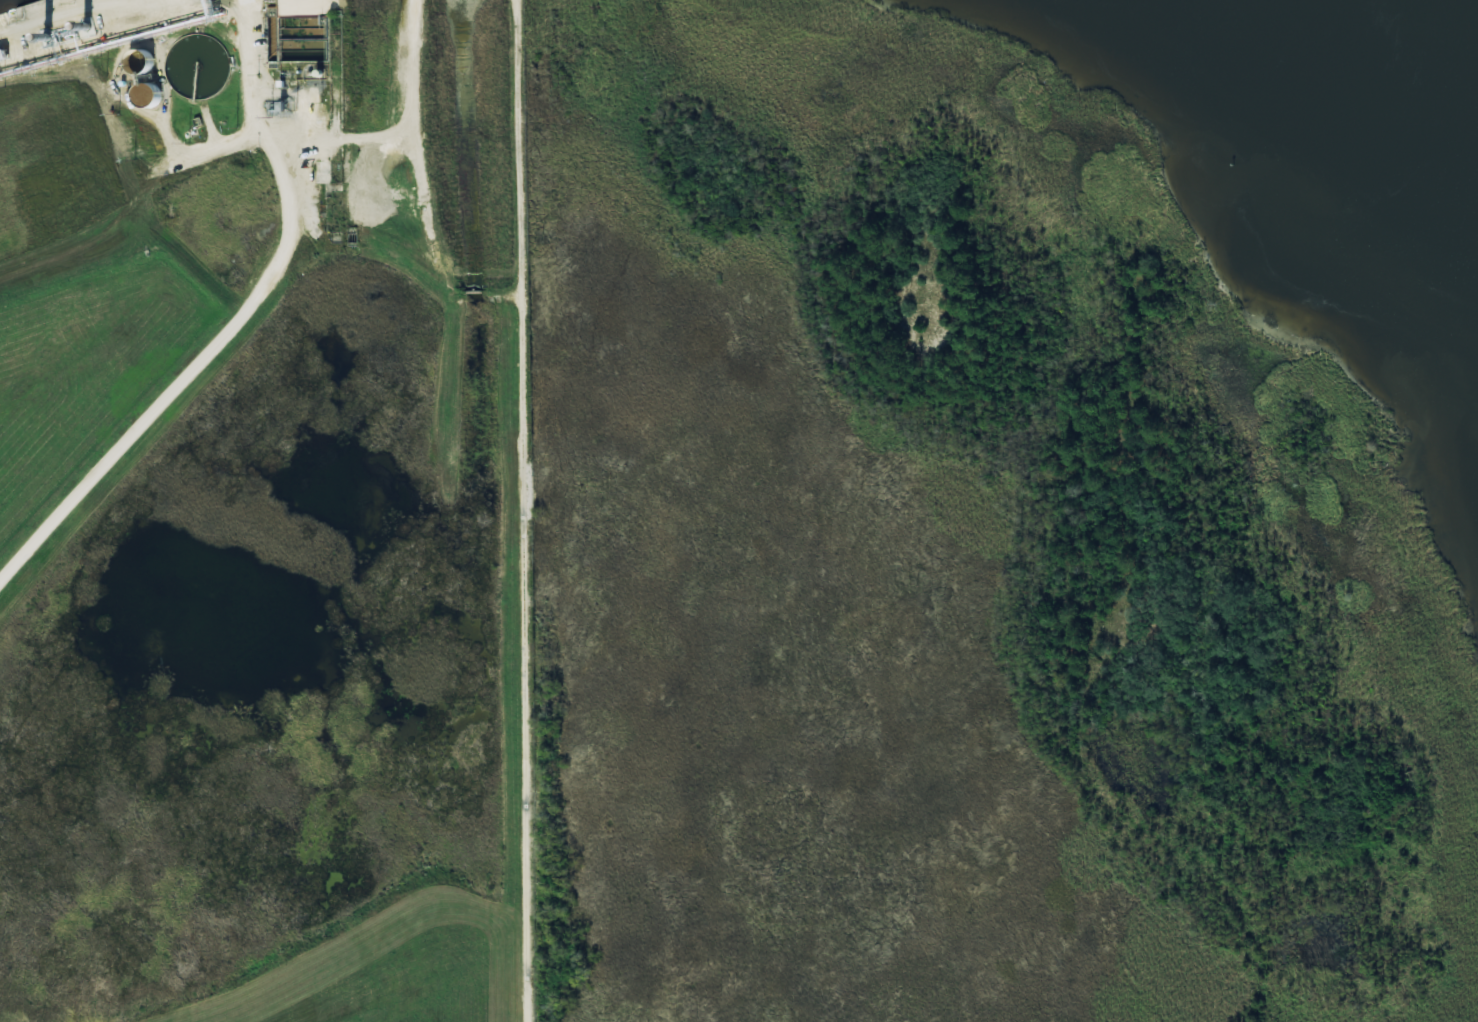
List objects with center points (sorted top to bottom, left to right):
road: (76, 15)
road: (196, 161)
road: (236, 322)
road: (533, 510)

